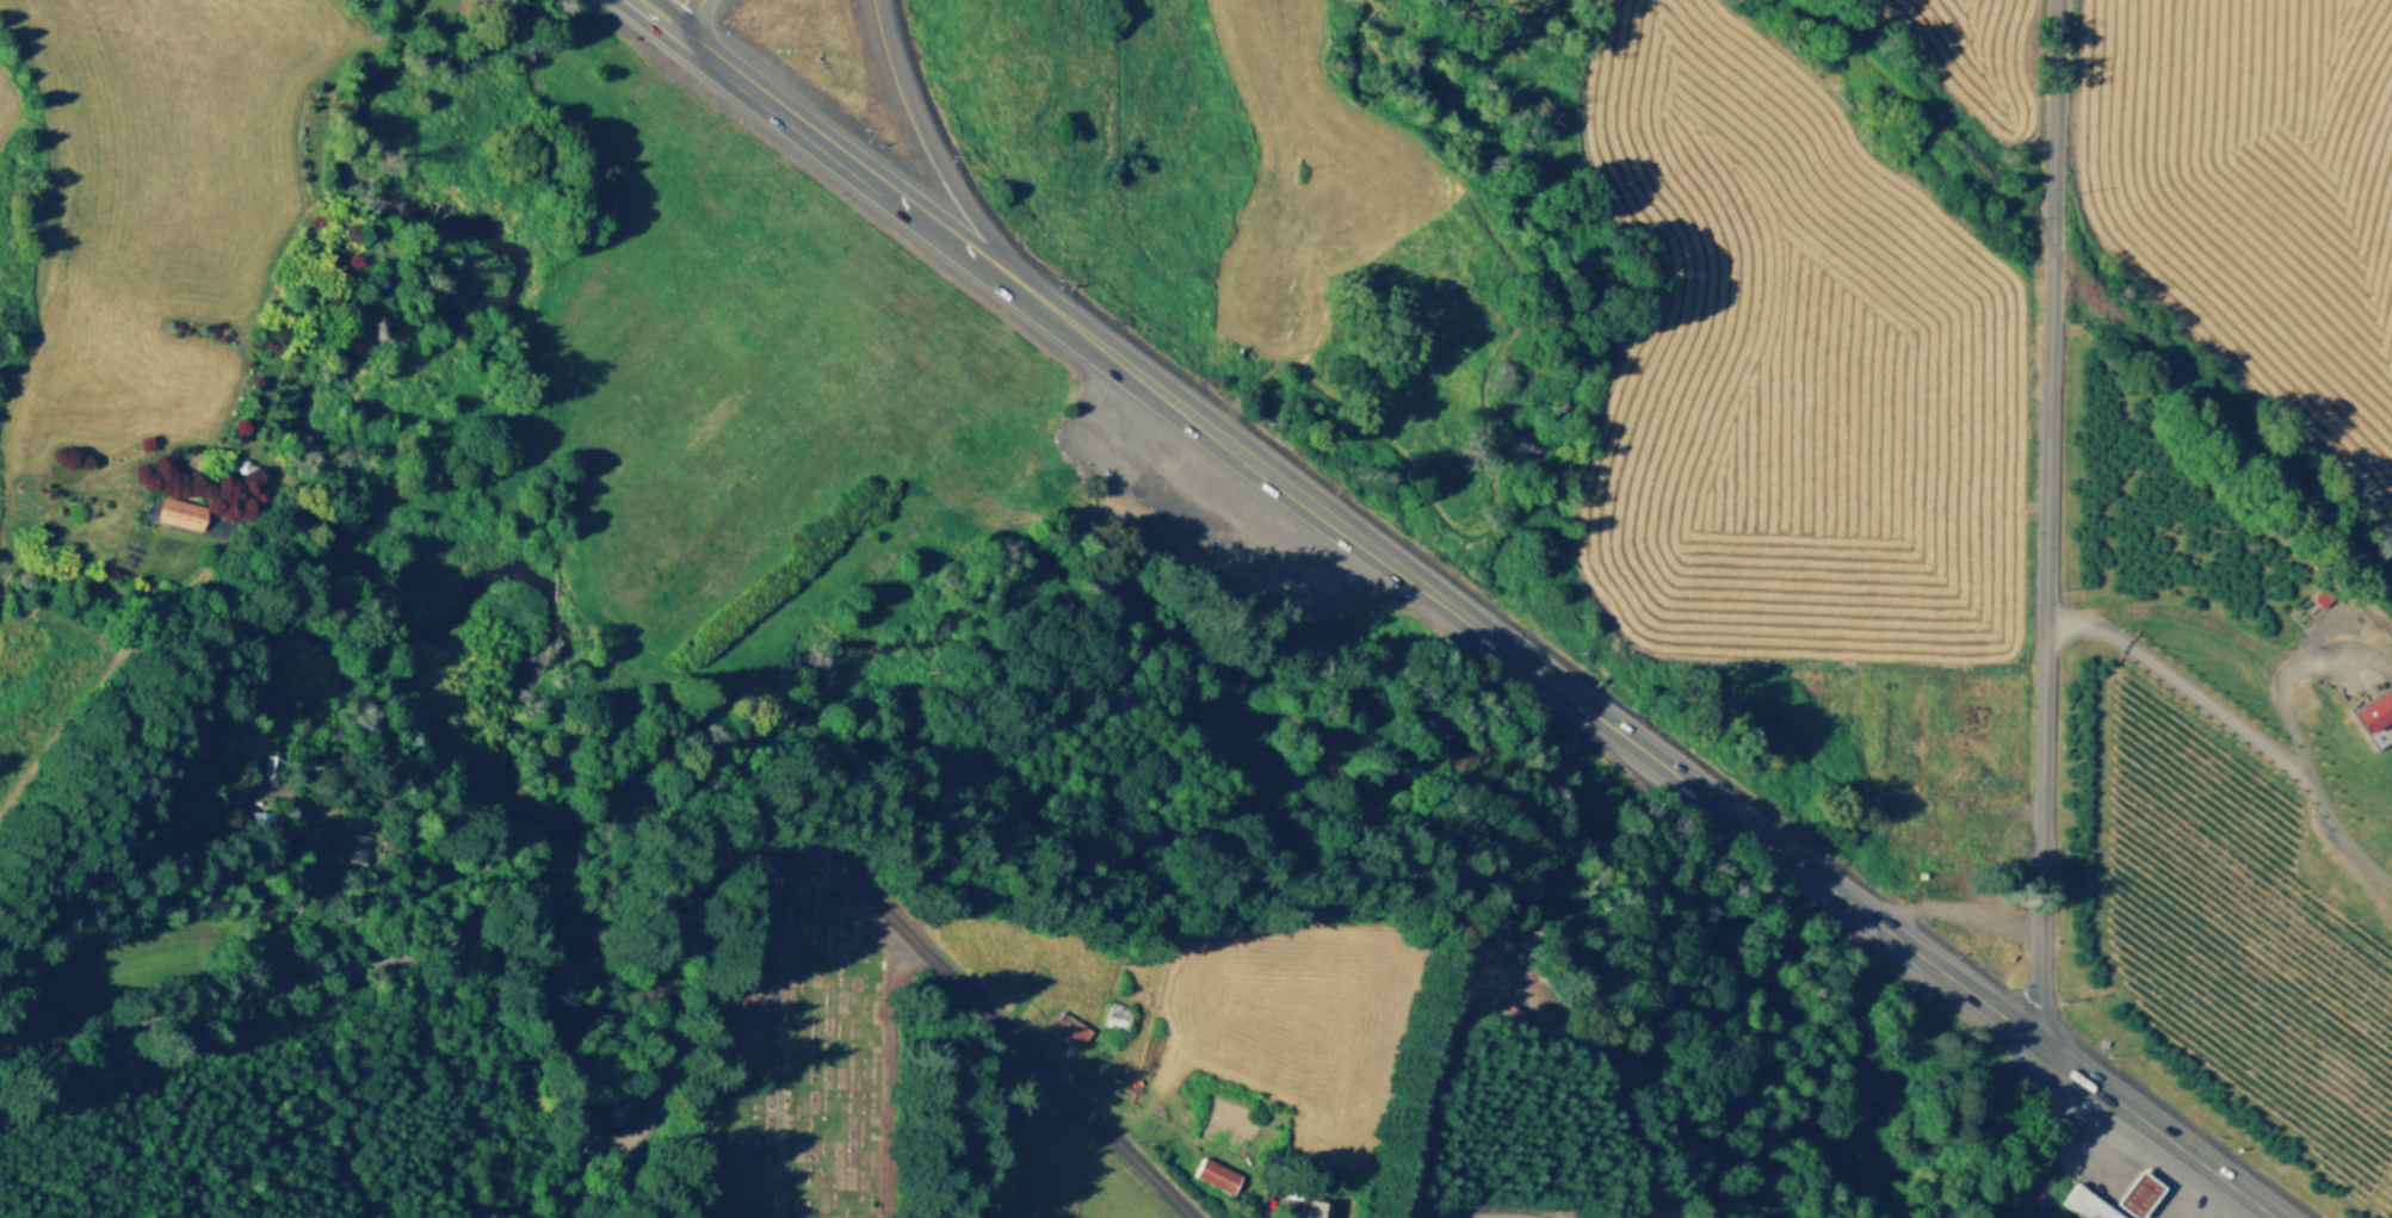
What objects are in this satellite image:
crop: (1510, 2)
road: (649, 14)
road: (680, 14)
road: (705, 57)
crop: (1978, 58)
road: (787, 118)
road: (939, 168)
crop: (1186, 168)
crop: (2256, 199)
road: (941, 233)
railway: (2101, 297)
crop: (1793, 371)
road: (1198, 422)
road: (1135, 443)
silo: (240, 464)
road: (1, 471)
road: (1162, 491)
parking lot: (1200, 491)
road: (966, 495)
road: (1223, 502)
building: (230, 507)
building: (178, 512)
road: (2045, 520)
building: (1206, 524)
building: (958, 526)
road: (1297, 551)
building: (888, 571)
road: (2217, 622)
road: (1475, 624)
road: (110, 666)
road: (2350, 673)
road: (2306, 684)
road: (2194, 694)
building: (2374, 711)
building: (267, 763)
road: (2305, 768)
road: (248, 772)
building: (175, 805)
road: (361, 808)
road: (2001, 812)
airport runway: (2381, 817)
building: (254, 818)
road: (347, 822)
building: (2007, 831)
building: (1995, 835)
building: (357, 845)
road: (319, 863)
building: (1943, 863)
road: (1958, 913)
crop: (2230, 939)
road: (1939, 967)
building: (1114, 1013)
road: (779, 1015)
building: (1067, 1022)
park: (787, 1052)
road: (666, 1063)
road: (878, 1074)
road: (2087, 1125)
road: (2038, 1130)
road: (990, 1131)
road: (2106, 1151)
road: (2091, 1162)
road: (2147, 1166)
road: (2084, 1168)
parking lot: (2125, 1168)
building: (1213, 1171)
road: (2144, 1177)
road: (2138, 1186)
building: (2133, 1191)
gas station: (2133, 1191)
road: (2132, 1192)
road: (1265, 1201)
road: (2178, 1201)
building: (2085, 1202)
road: (2125, 1202)
building: (1314, 1207)
road: (2177, 1208)
road: (2229, 1208)
road: (2170, 1213)
road: (2143, 1214)
road: (1494, 1216)
road: (2190, 1216)

